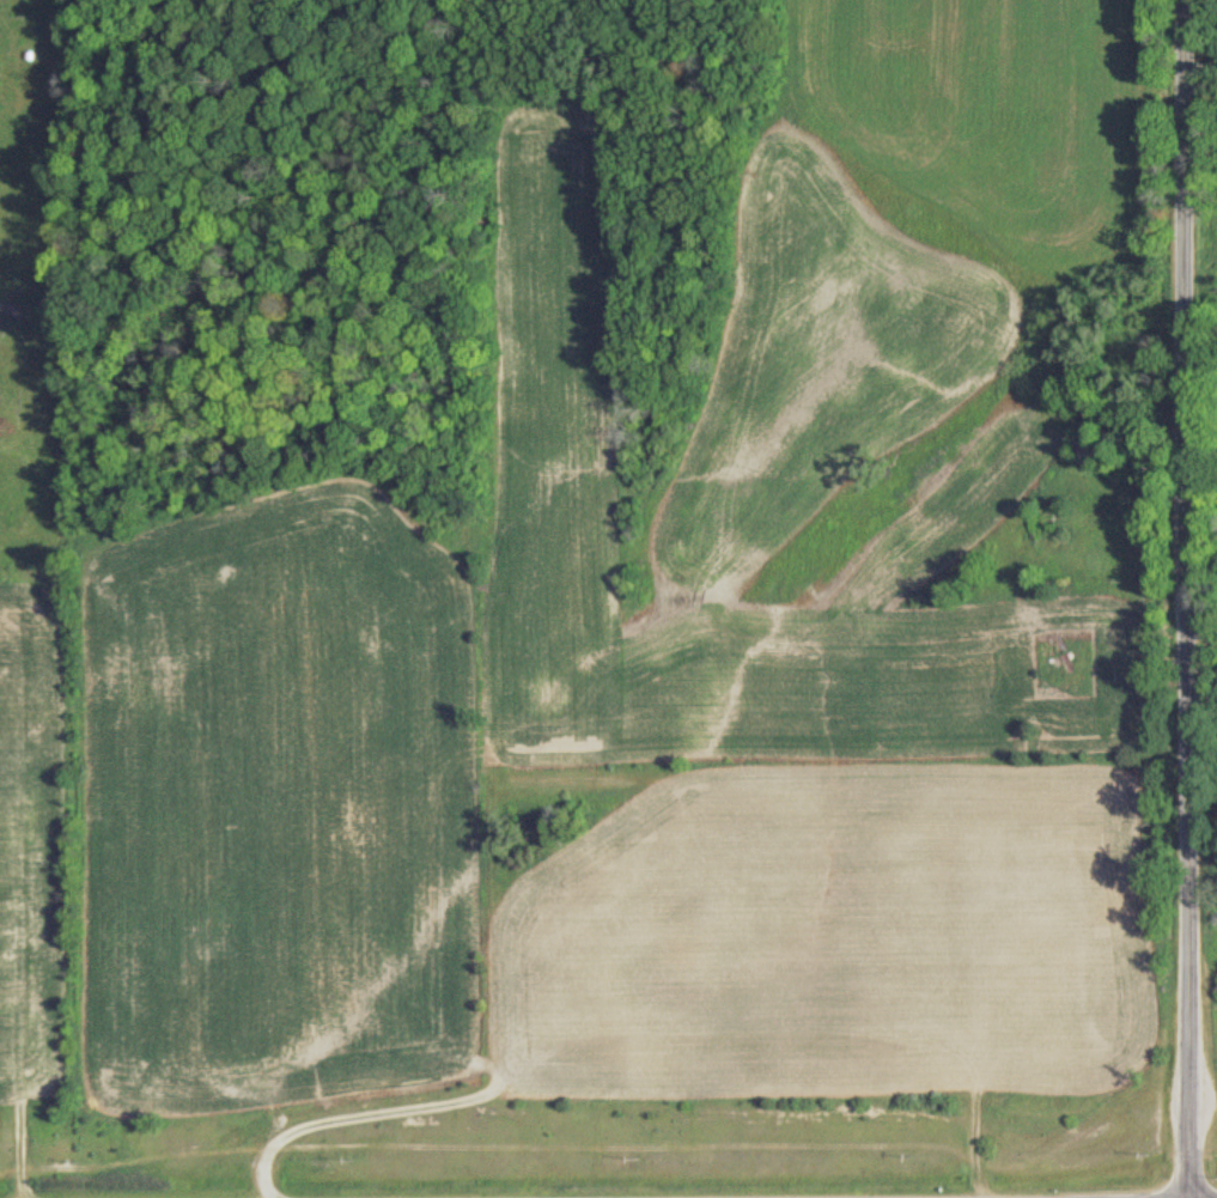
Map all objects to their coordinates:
road: (1180, 598)

